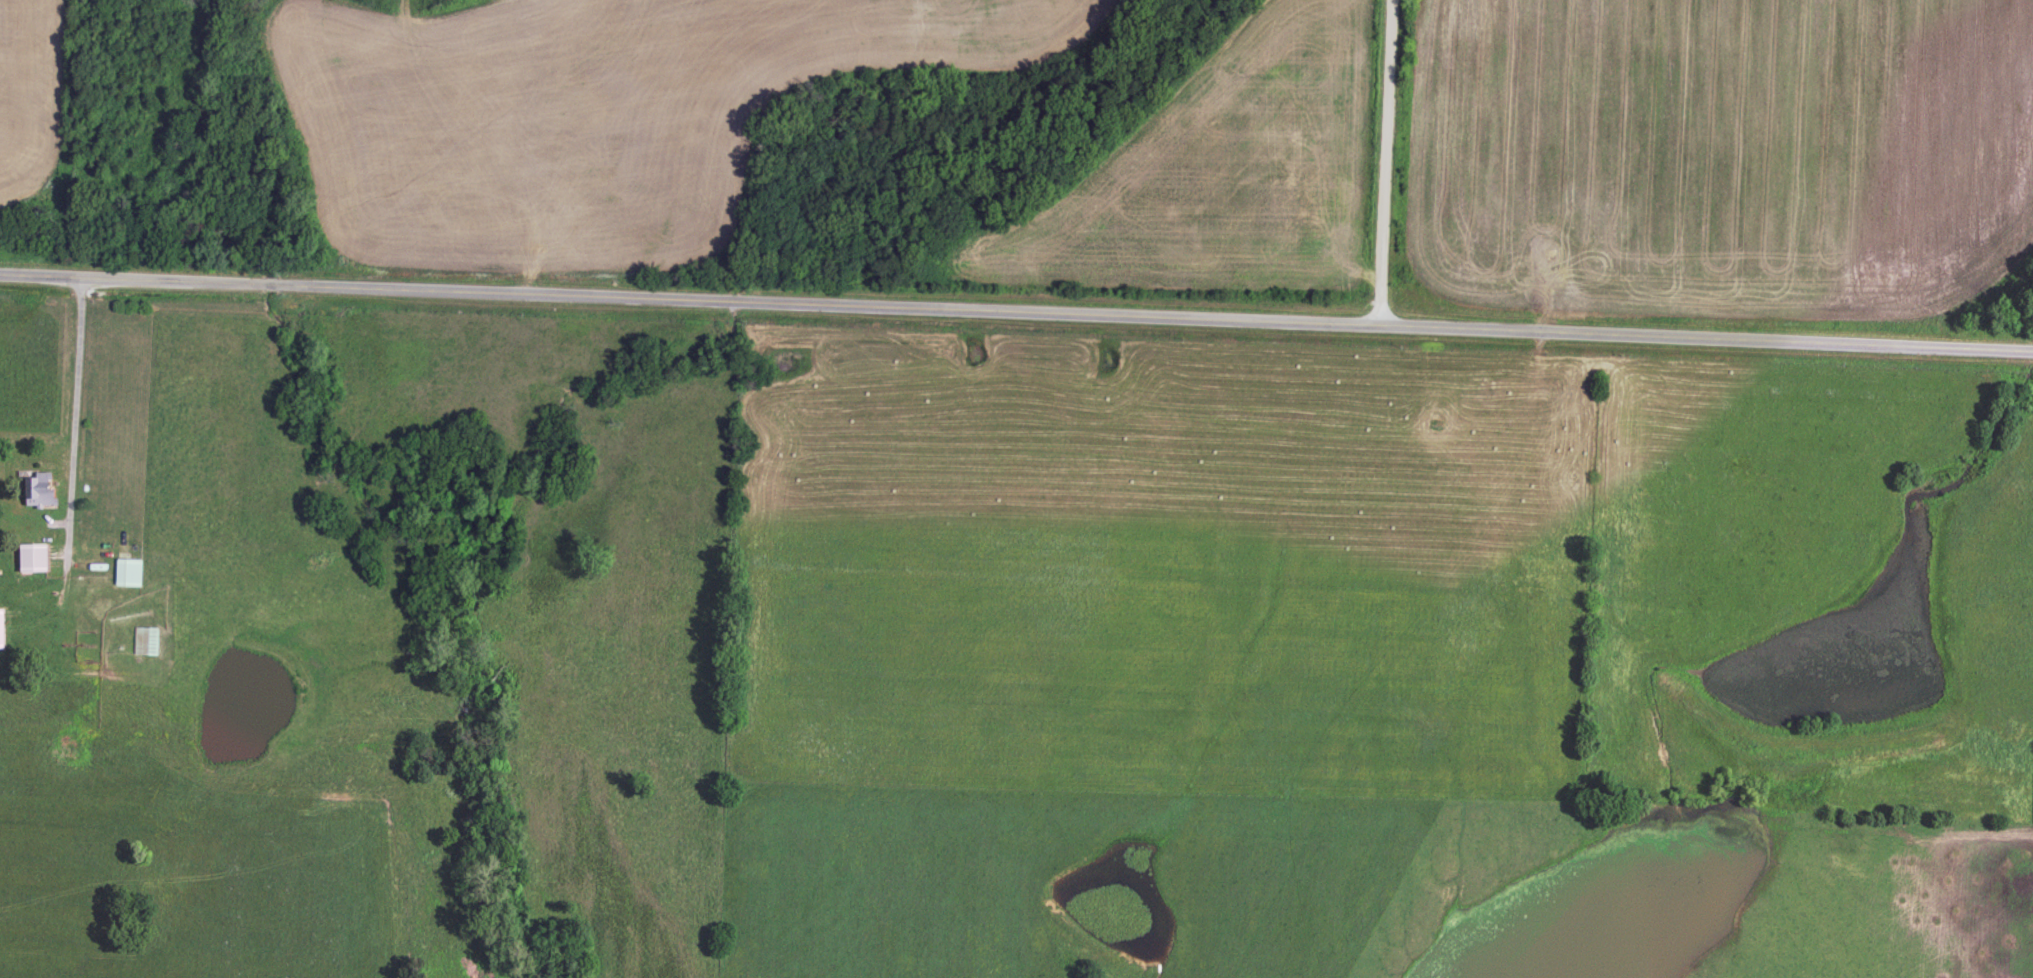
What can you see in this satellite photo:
road: (1384, 164)
road: (1016, 314)
road: (76, 439)
building: (31, 554)
building: (0, 629)

